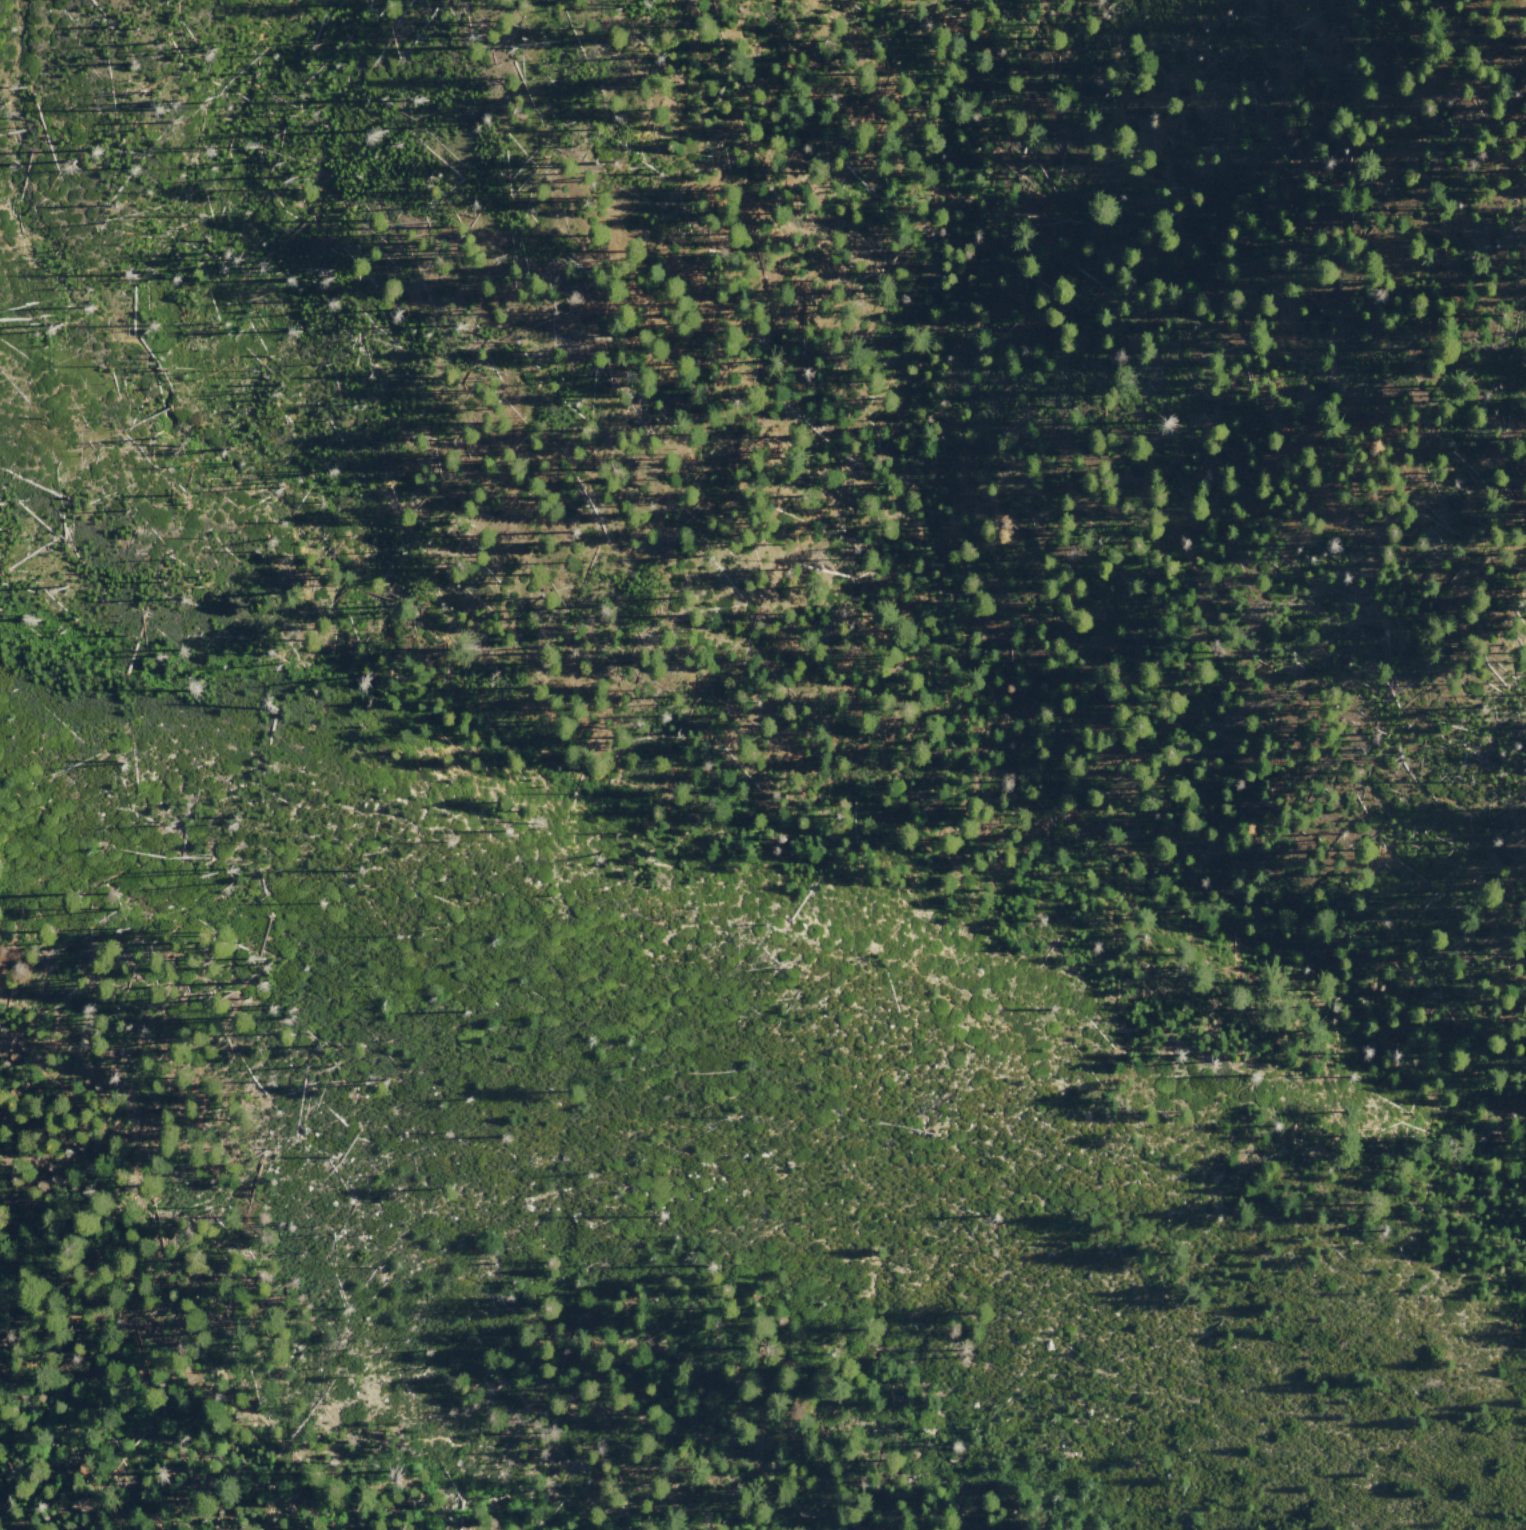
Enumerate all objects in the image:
road: (426, 1443)

